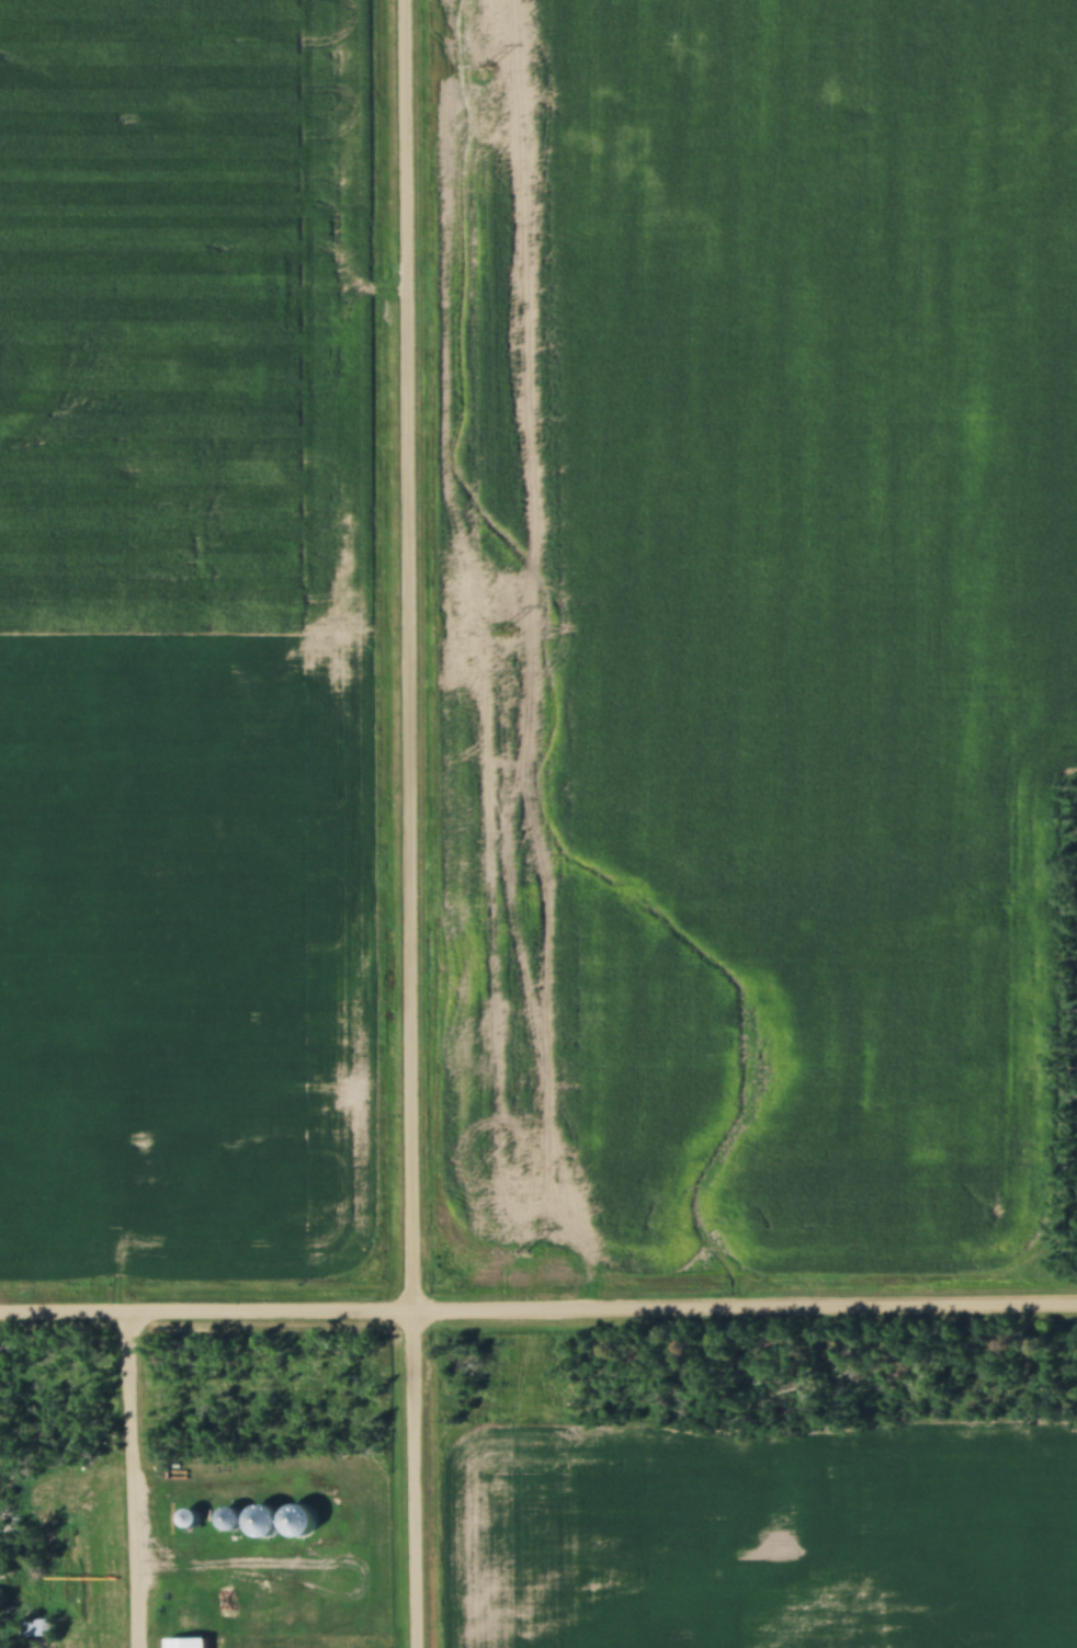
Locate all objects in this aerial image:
power tower: (486, 68)
power tower: (502, 628)
road: (413, 823)
power tower: (521, 1252)
road: (747, 1300)
road: (208, 1306)
road: (128, 1477)
building: (189, 1520)
building: (230, 1520)
building: (35, 1628)
building: (188, 1644)

